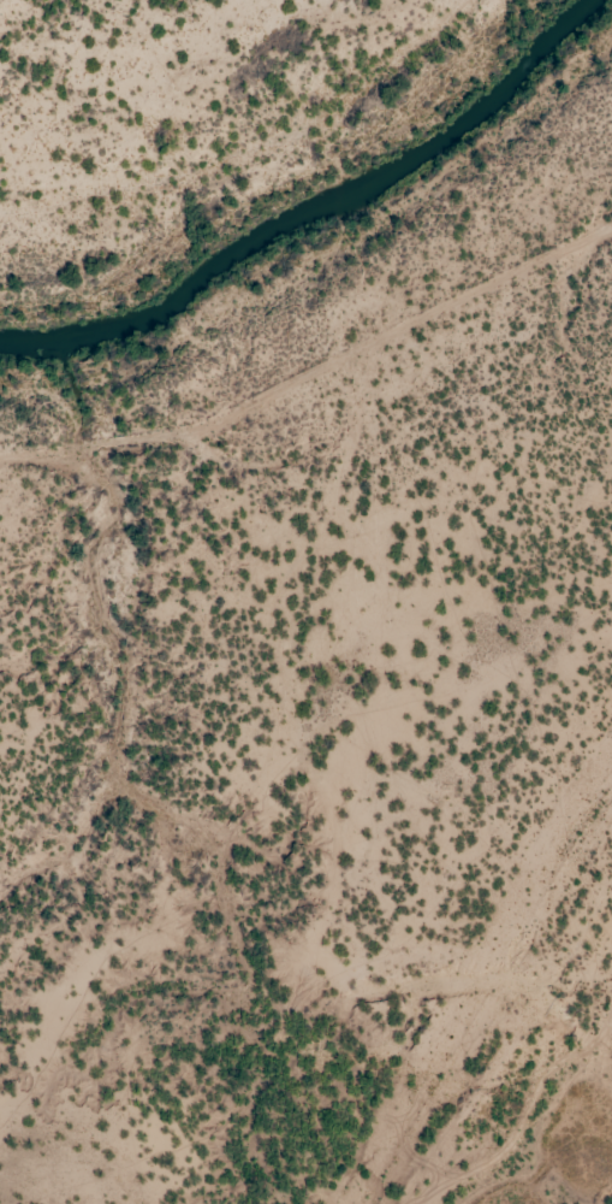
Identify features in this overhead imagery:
river: (311, 213)

